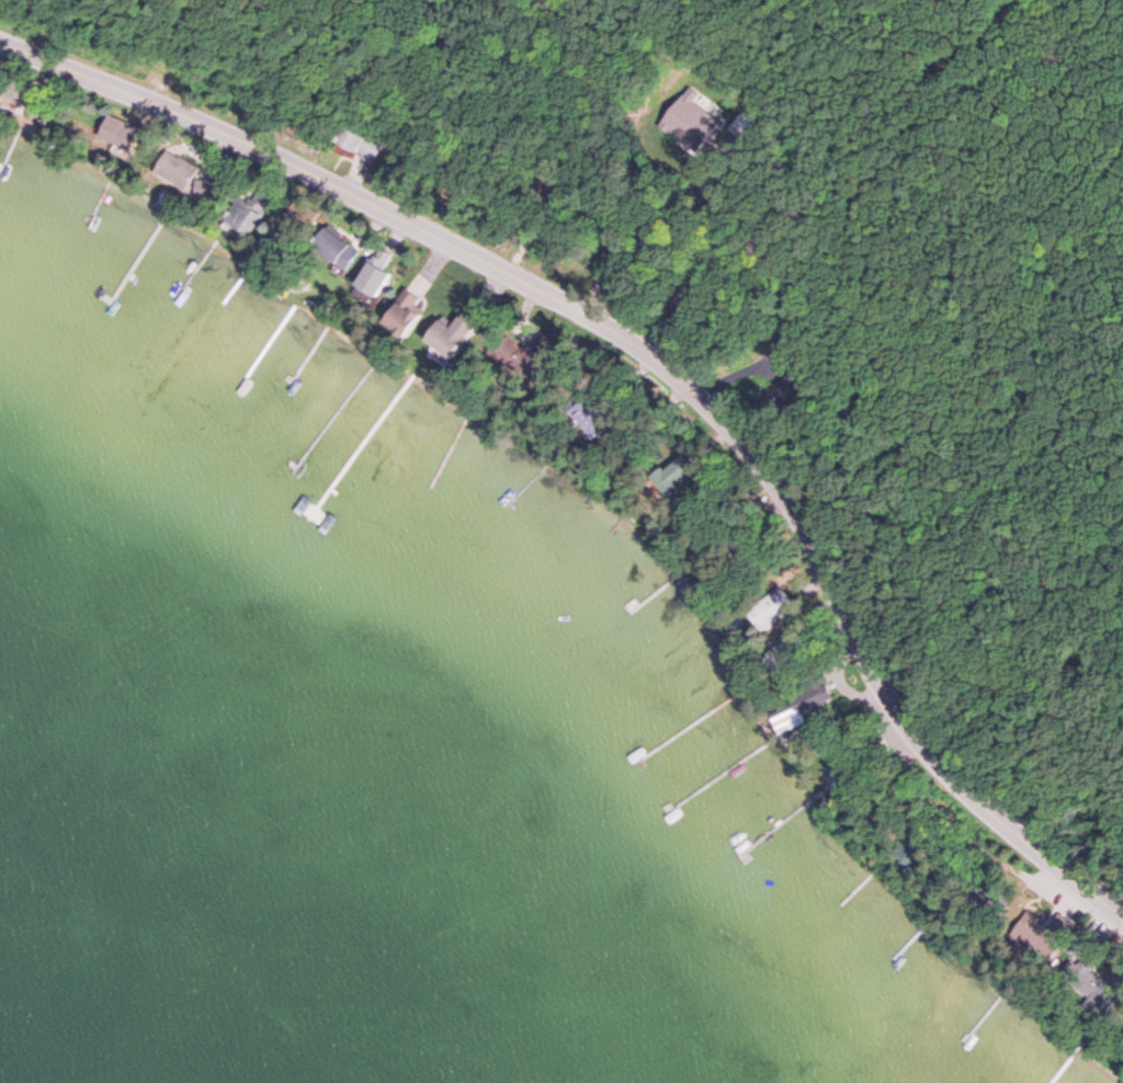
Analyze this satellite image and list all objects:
building: (347, 139)
building: (175, 172)
building: (300, 218)
building: (243, 221)
building: (337, 250)
building: (373, 282)
building: (405, 315)
building: (444, 344)
road: (661, 361)
building: (775, 609)
building: (785, 661)

